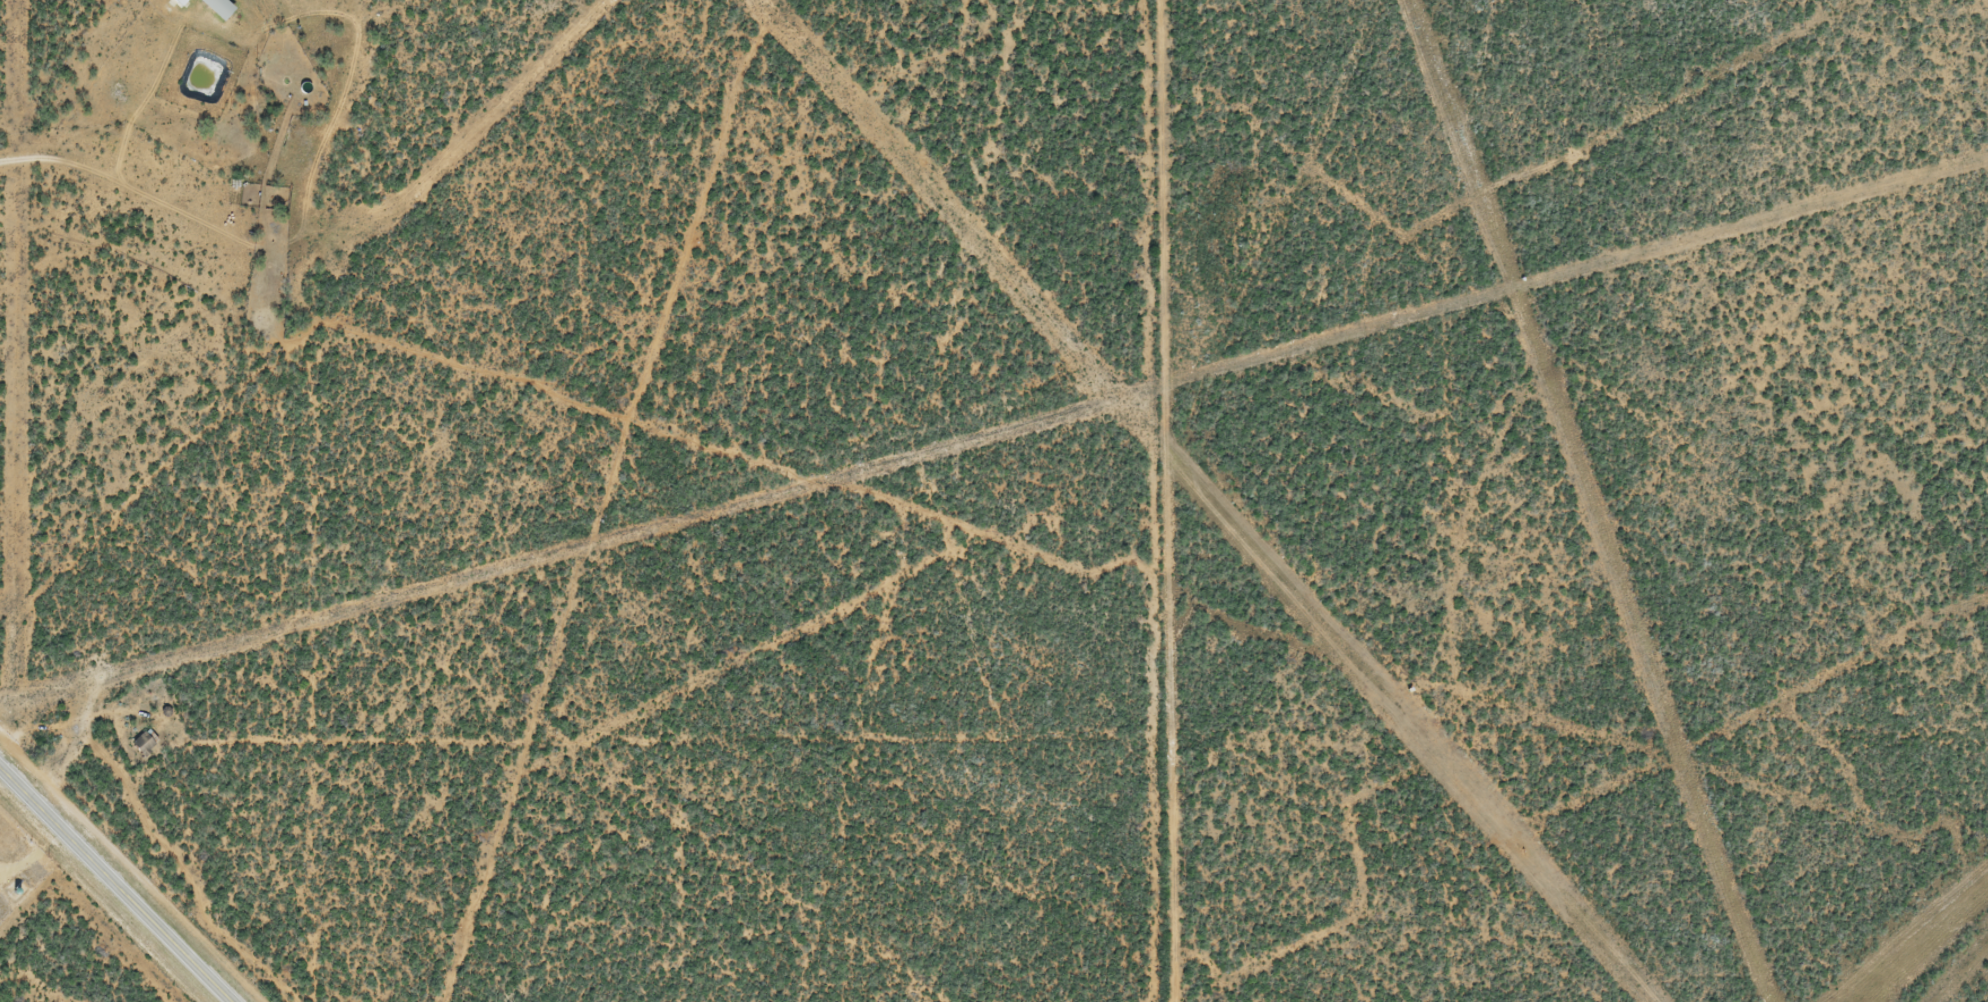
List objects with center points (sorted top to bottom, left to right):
building: (180, 2)
building: (218, 8)
road: (114, 163)
building: (143, 743)
road: (114, 882)

